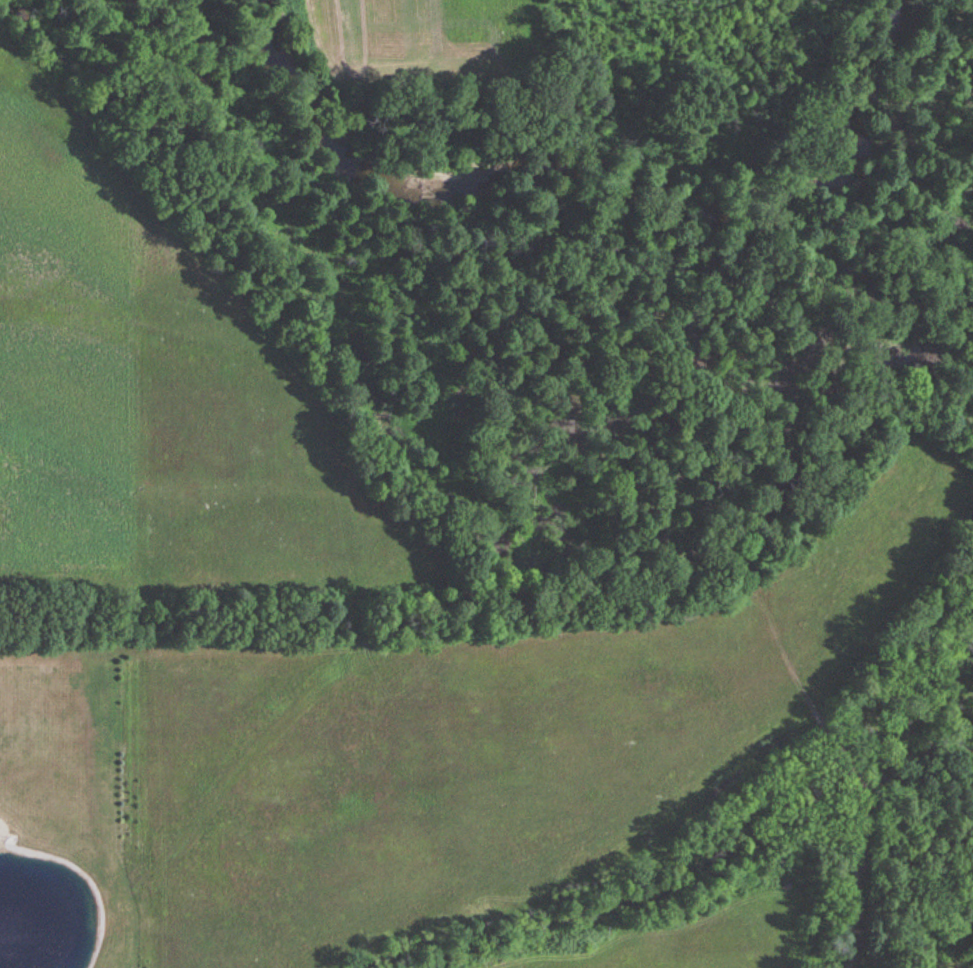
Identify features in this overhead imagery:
river: (598, 172)

